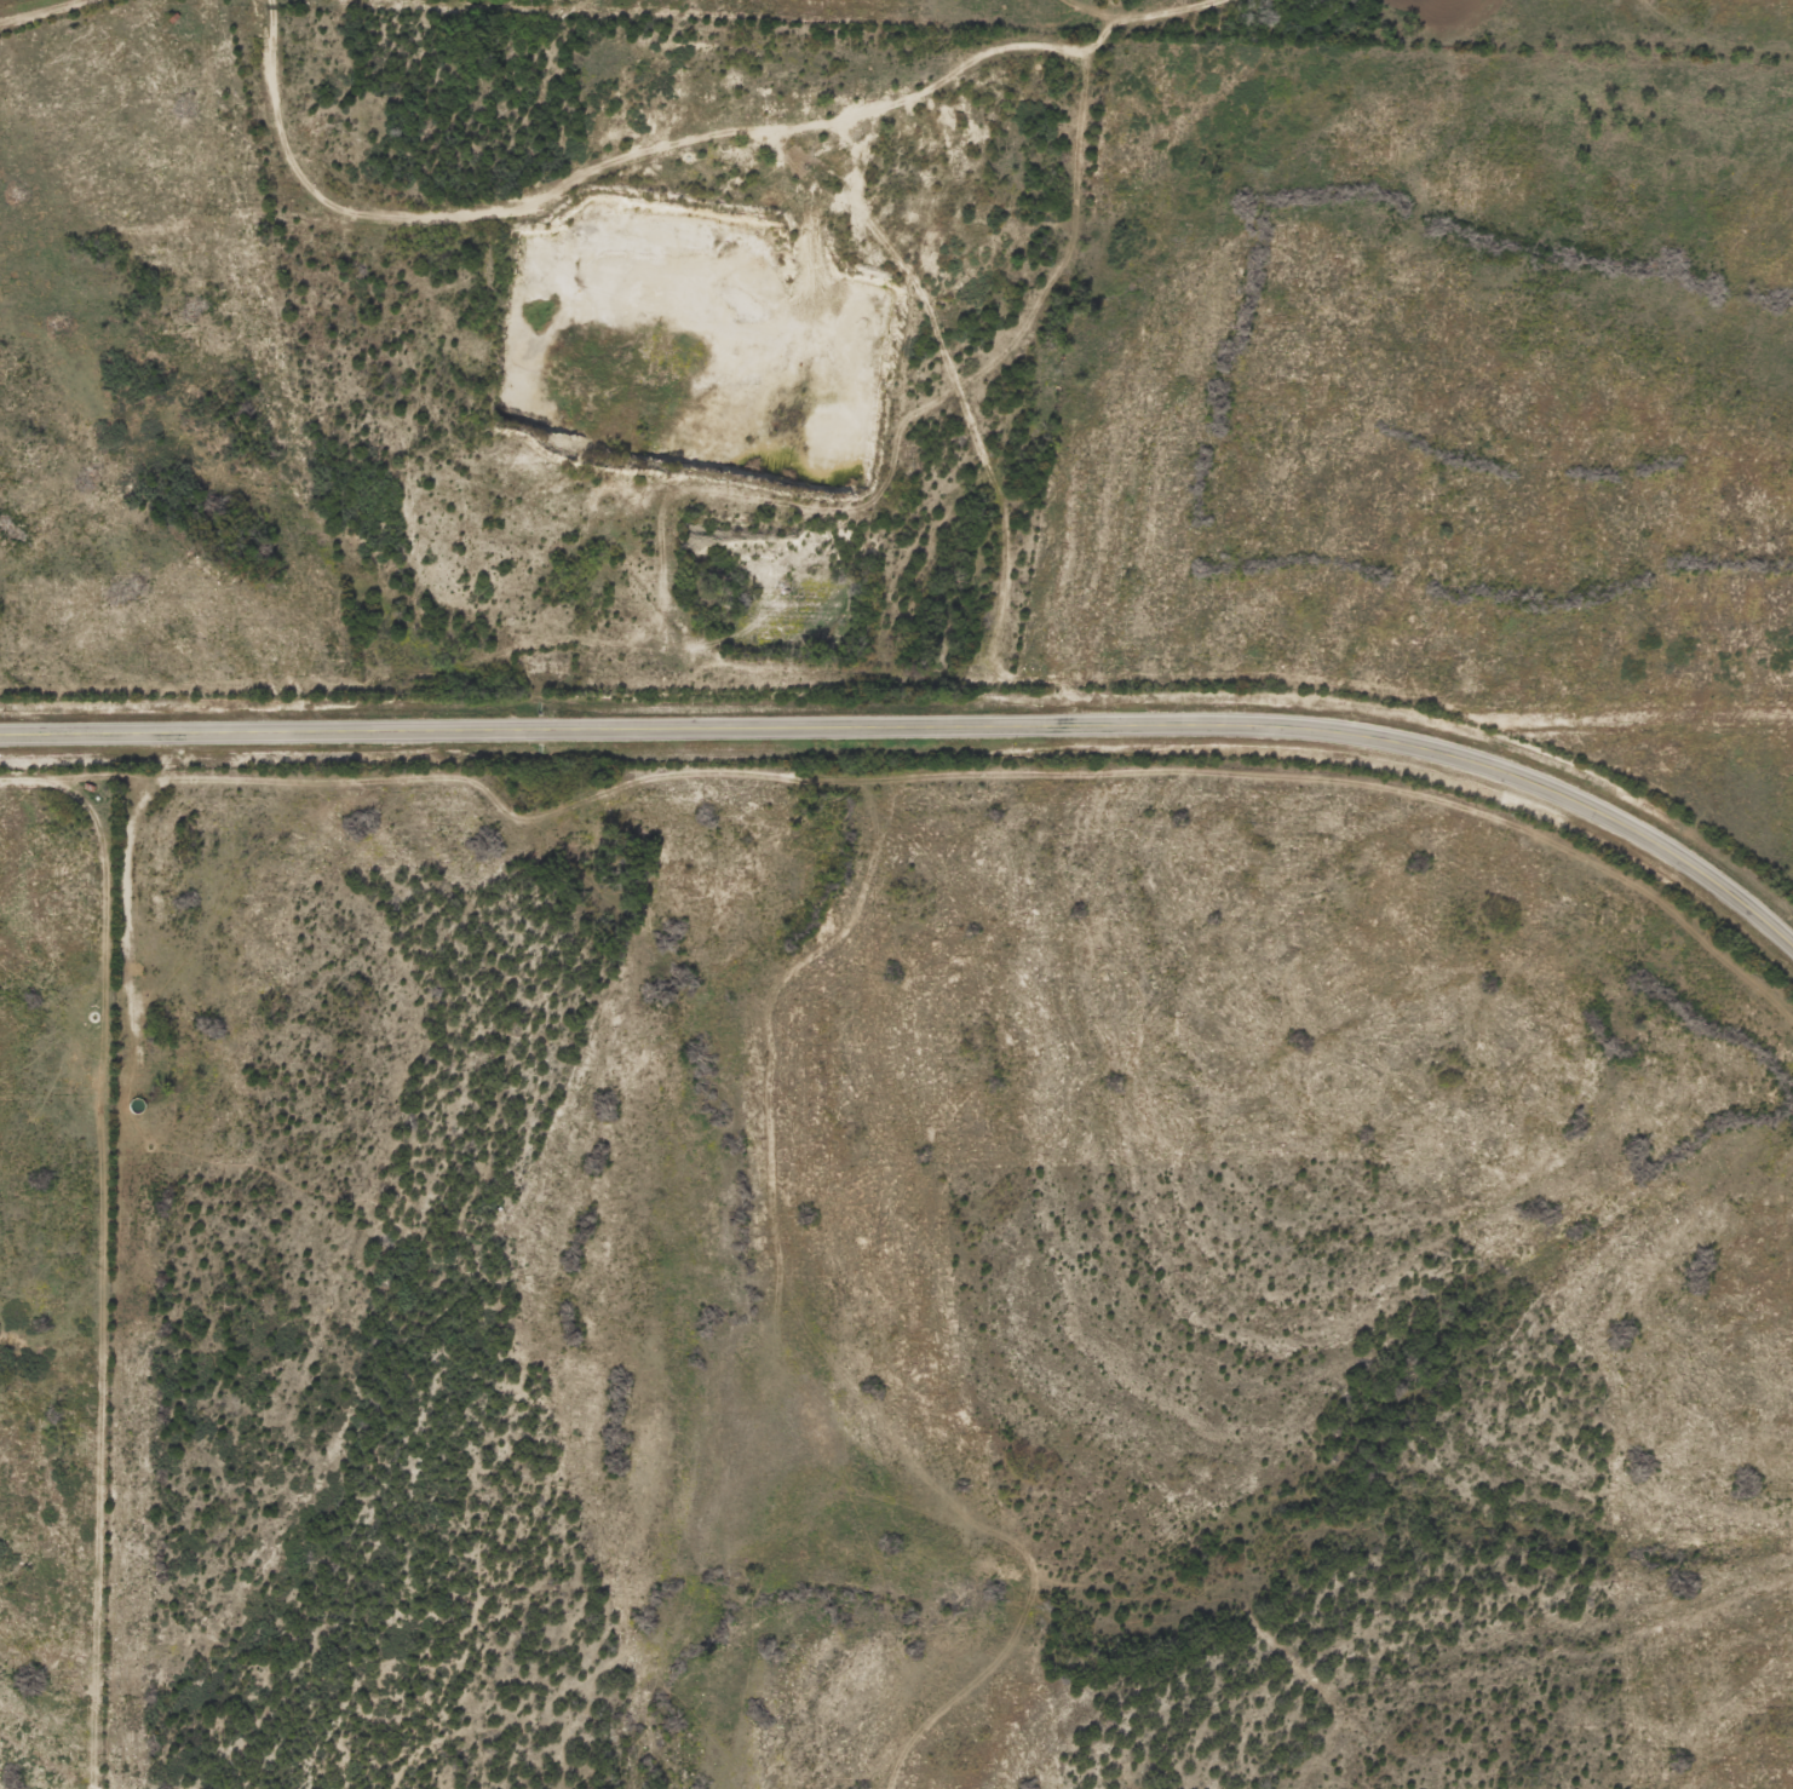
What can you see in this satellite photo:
road: (924, 730)

